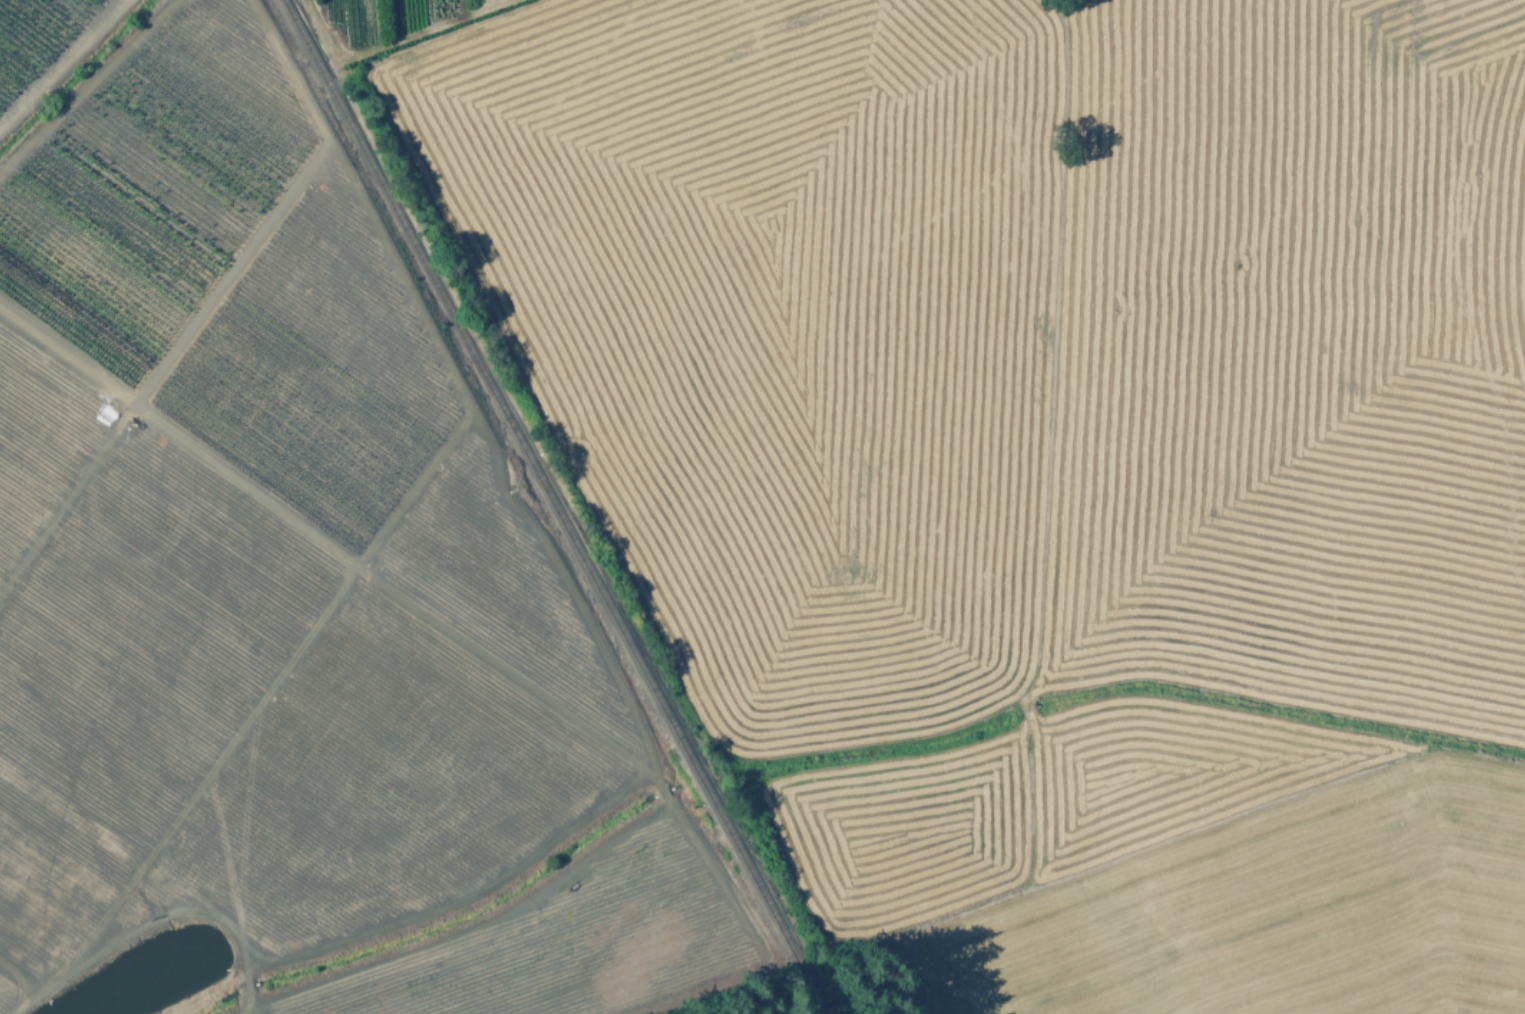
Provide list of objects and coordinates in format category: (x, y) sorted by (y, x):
crop: (1045, 462)
railway: (556, 507)
crop: (274, 592)

